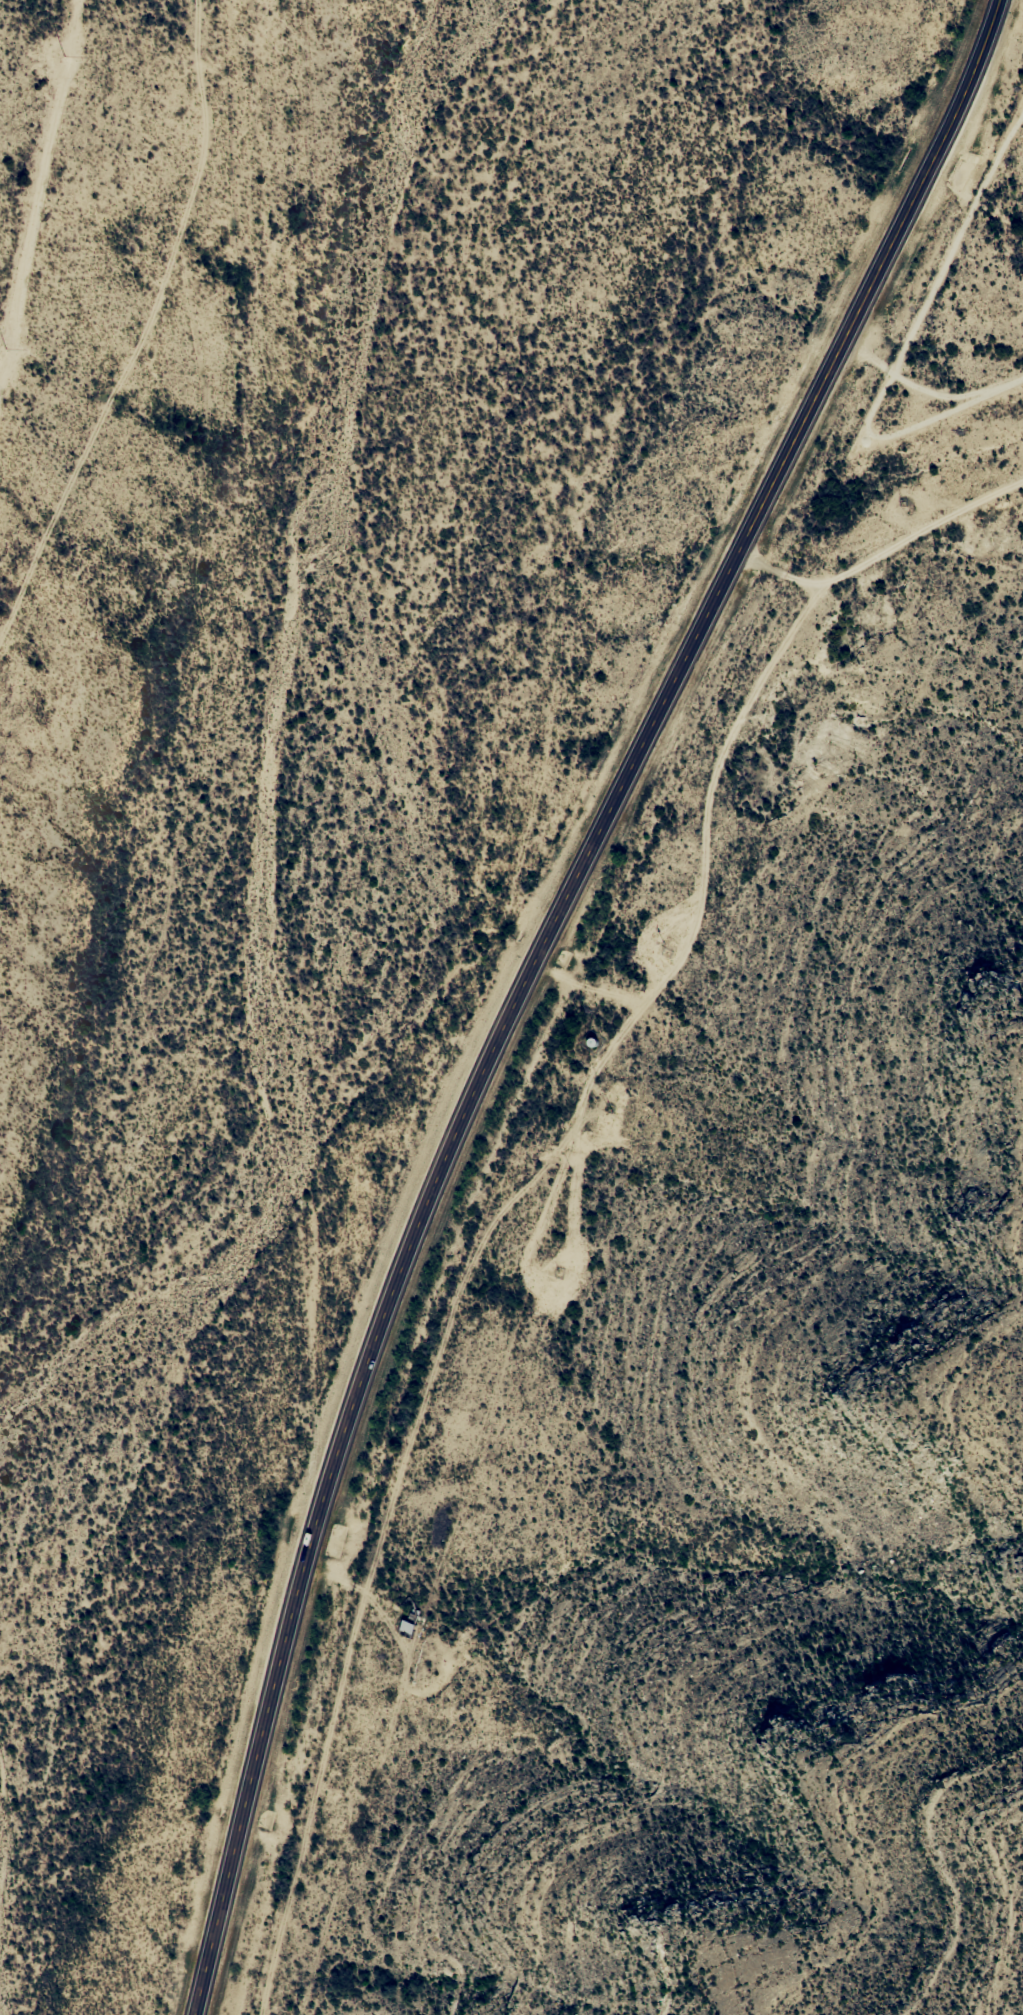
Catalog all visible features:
road: (144, 327)
road: (881, 552)
road: (524, 980)
building: (407, 1628)

